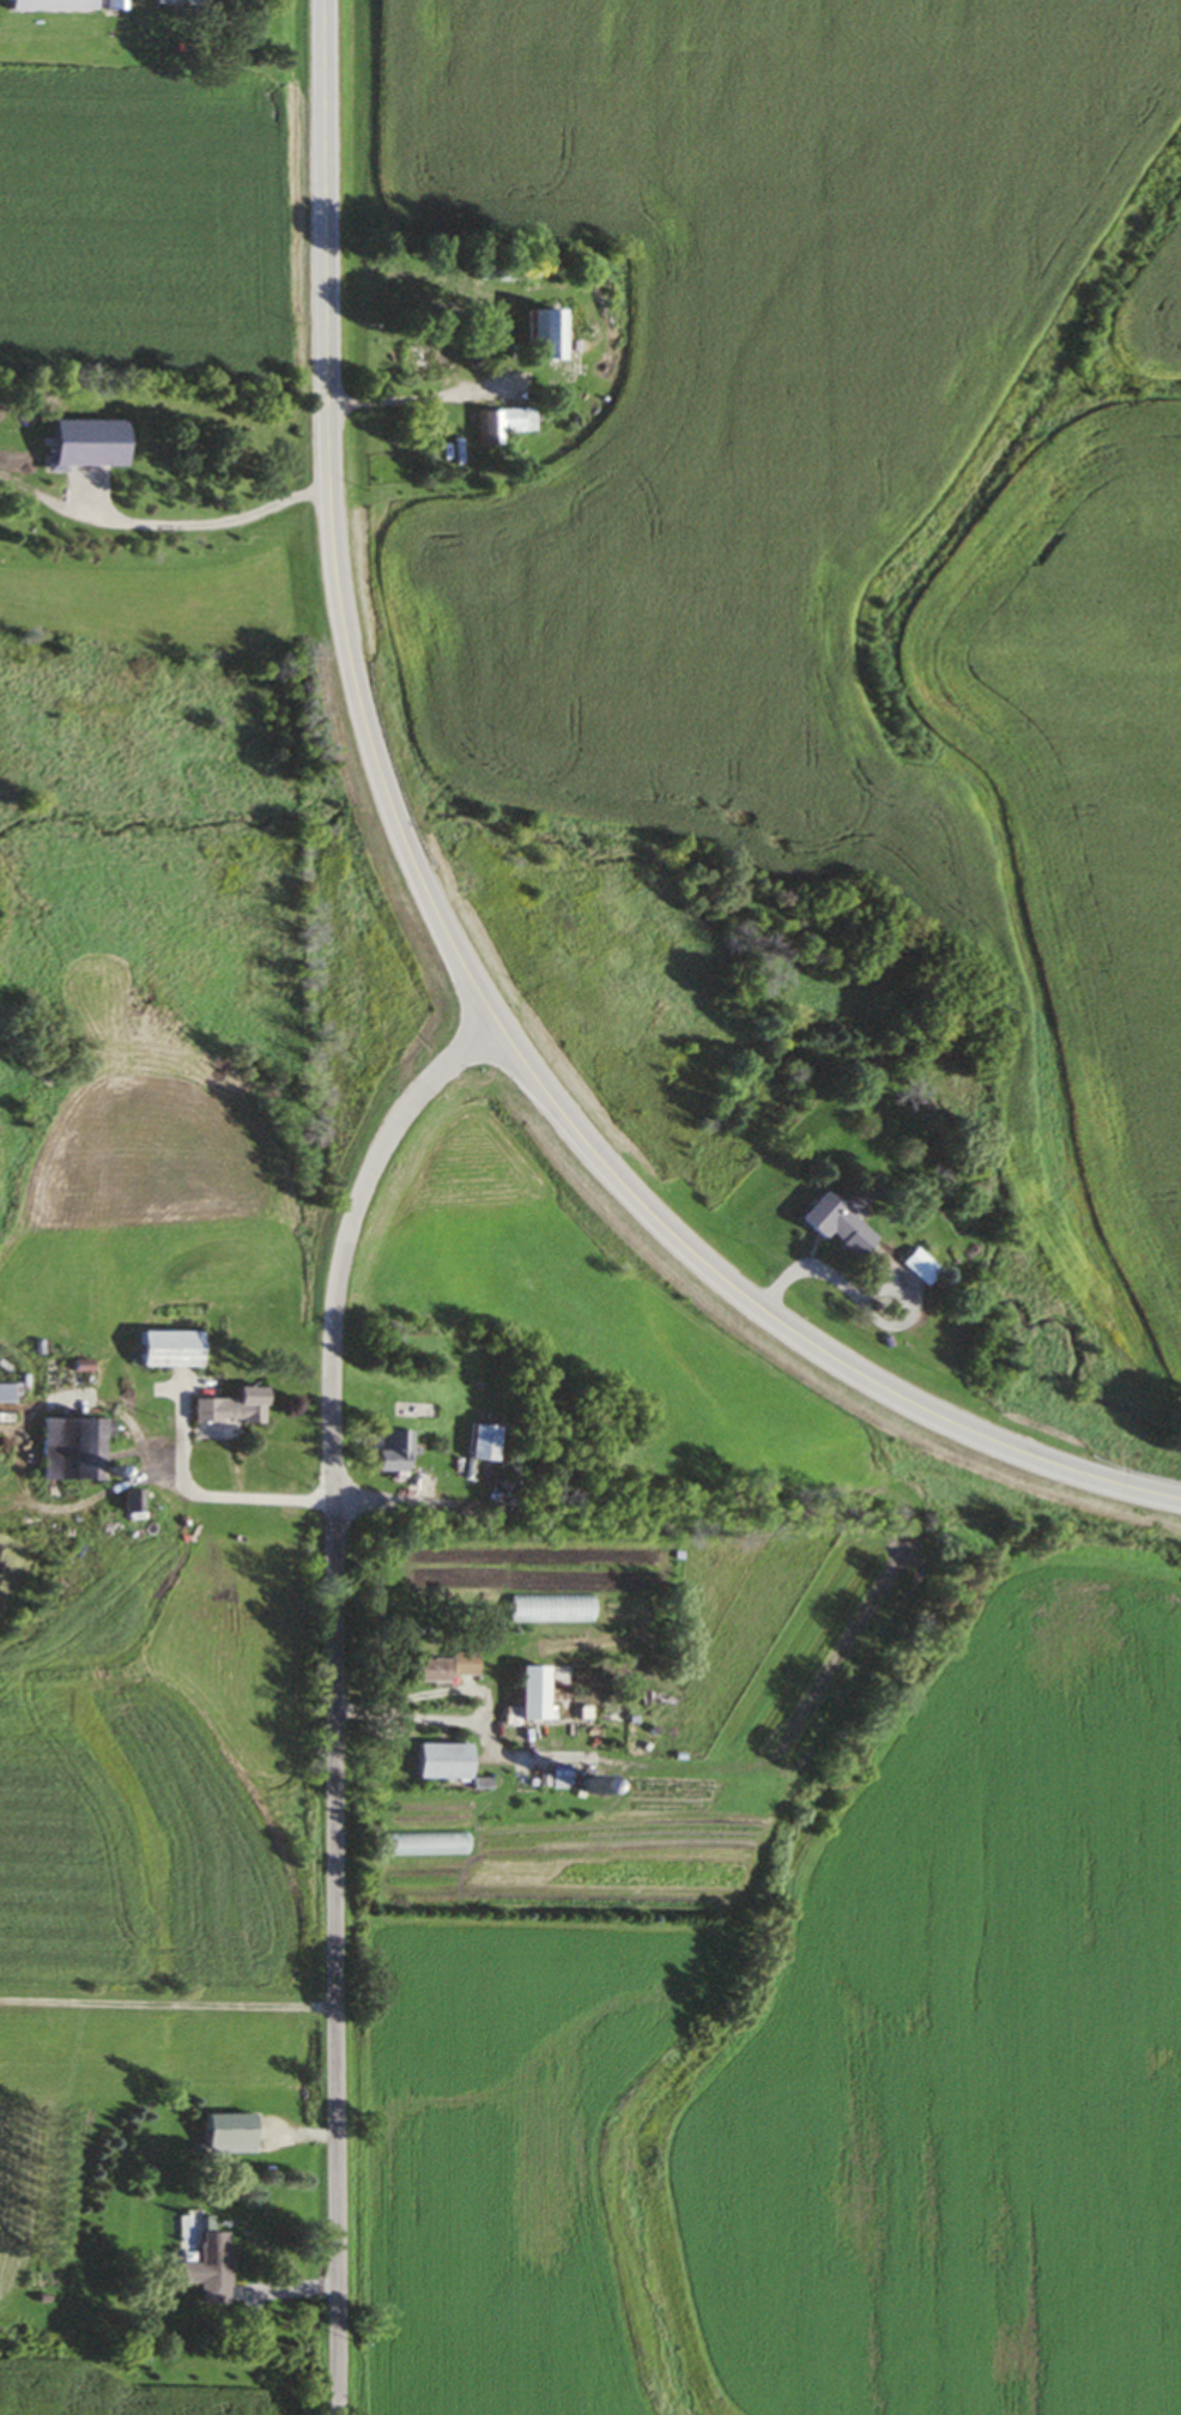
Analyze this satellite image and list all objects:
building: (186, 2)
building: (48, 6)
building: (113, 6)
building: (541, 337)
building: (426, 361)
road: (395, 401)
building: (525, 419)
road: (441, 940)
building: (834, 1227)
road: (808, 1264)
building: (919, 1269)
building: (168, 1350)
building: (5, 1396)
building: (229, 1410)
road: (134, 1435)
building: (483, 1446)
building: (69, 1451)
building: (390, 1453)
road: (201, 1494)
road: (611, 1508)
building: (552, 1610)
building: (442, 1670)
road: (334, 1695)
building: (531, 1695)
road: (480, 1720)
building: (442, 1763)
building: (561, 1781)
building: (226, 2135)
building: (207, 2269)

